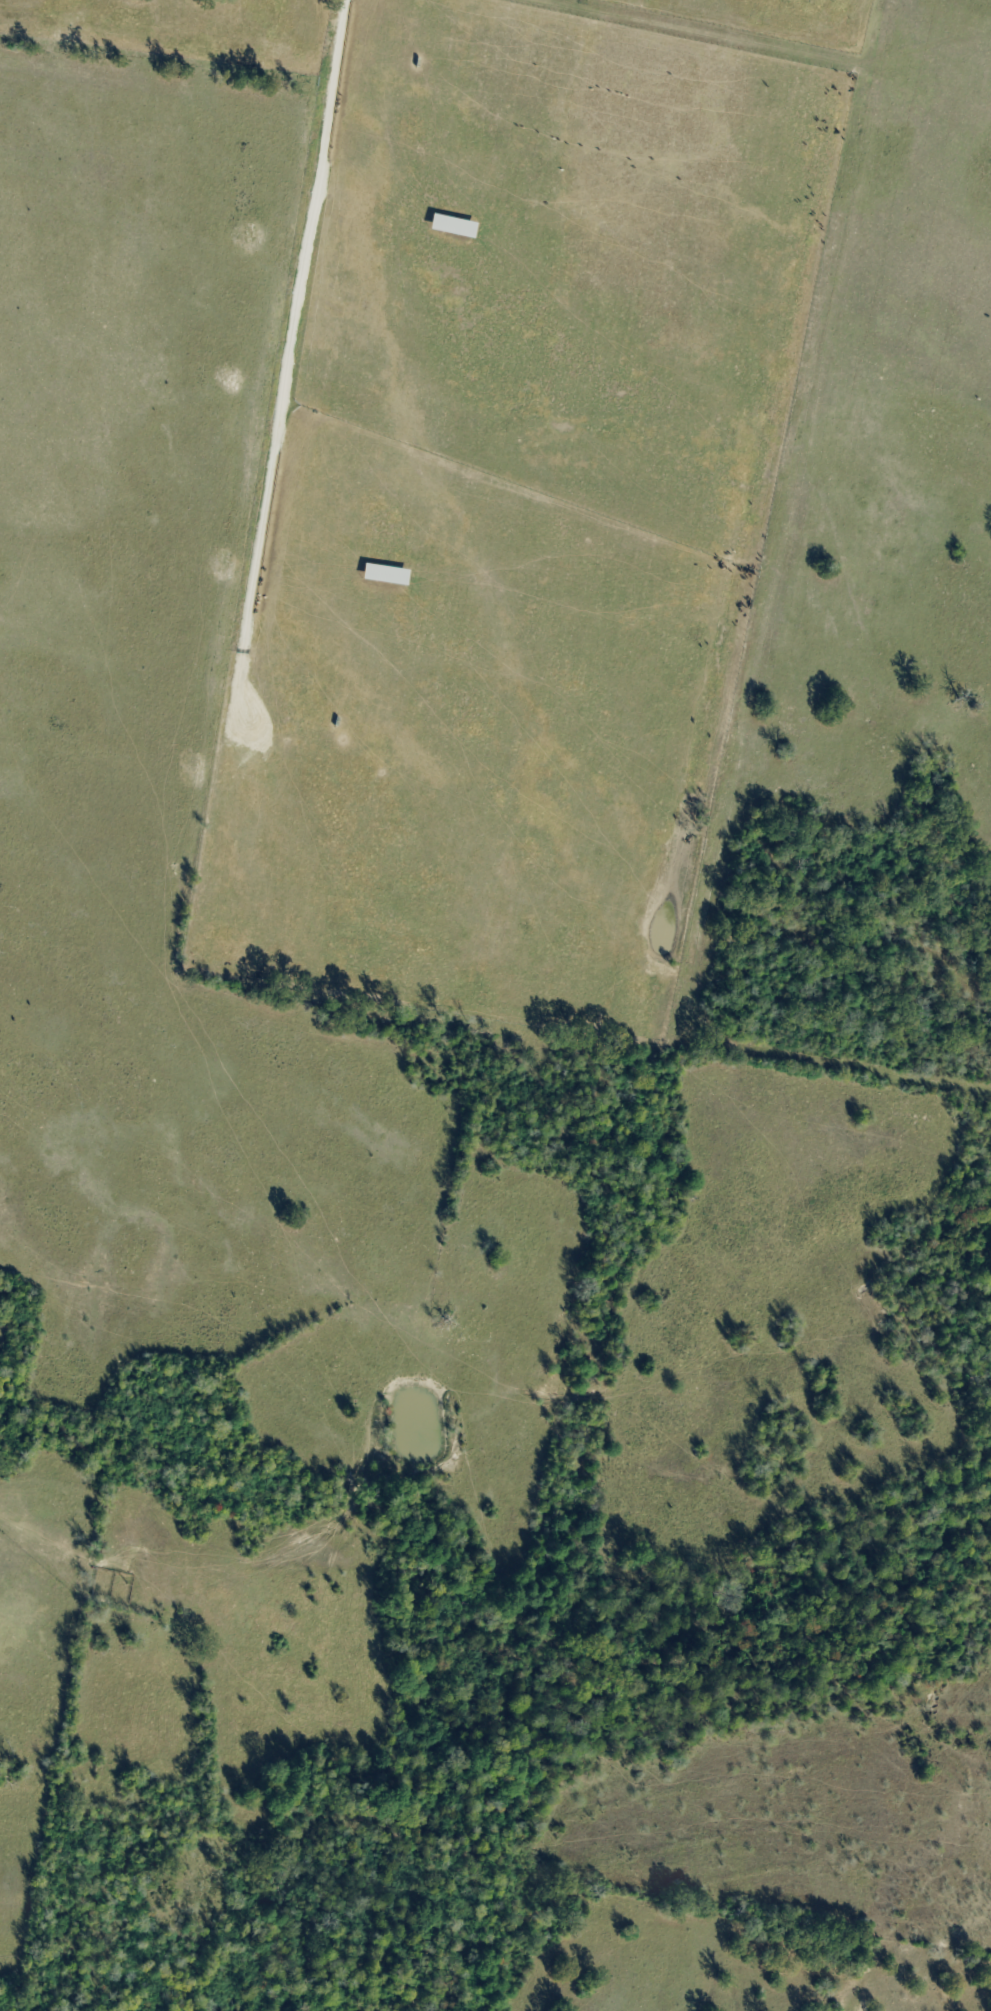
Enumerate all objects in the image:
railway: (666, 1005)

